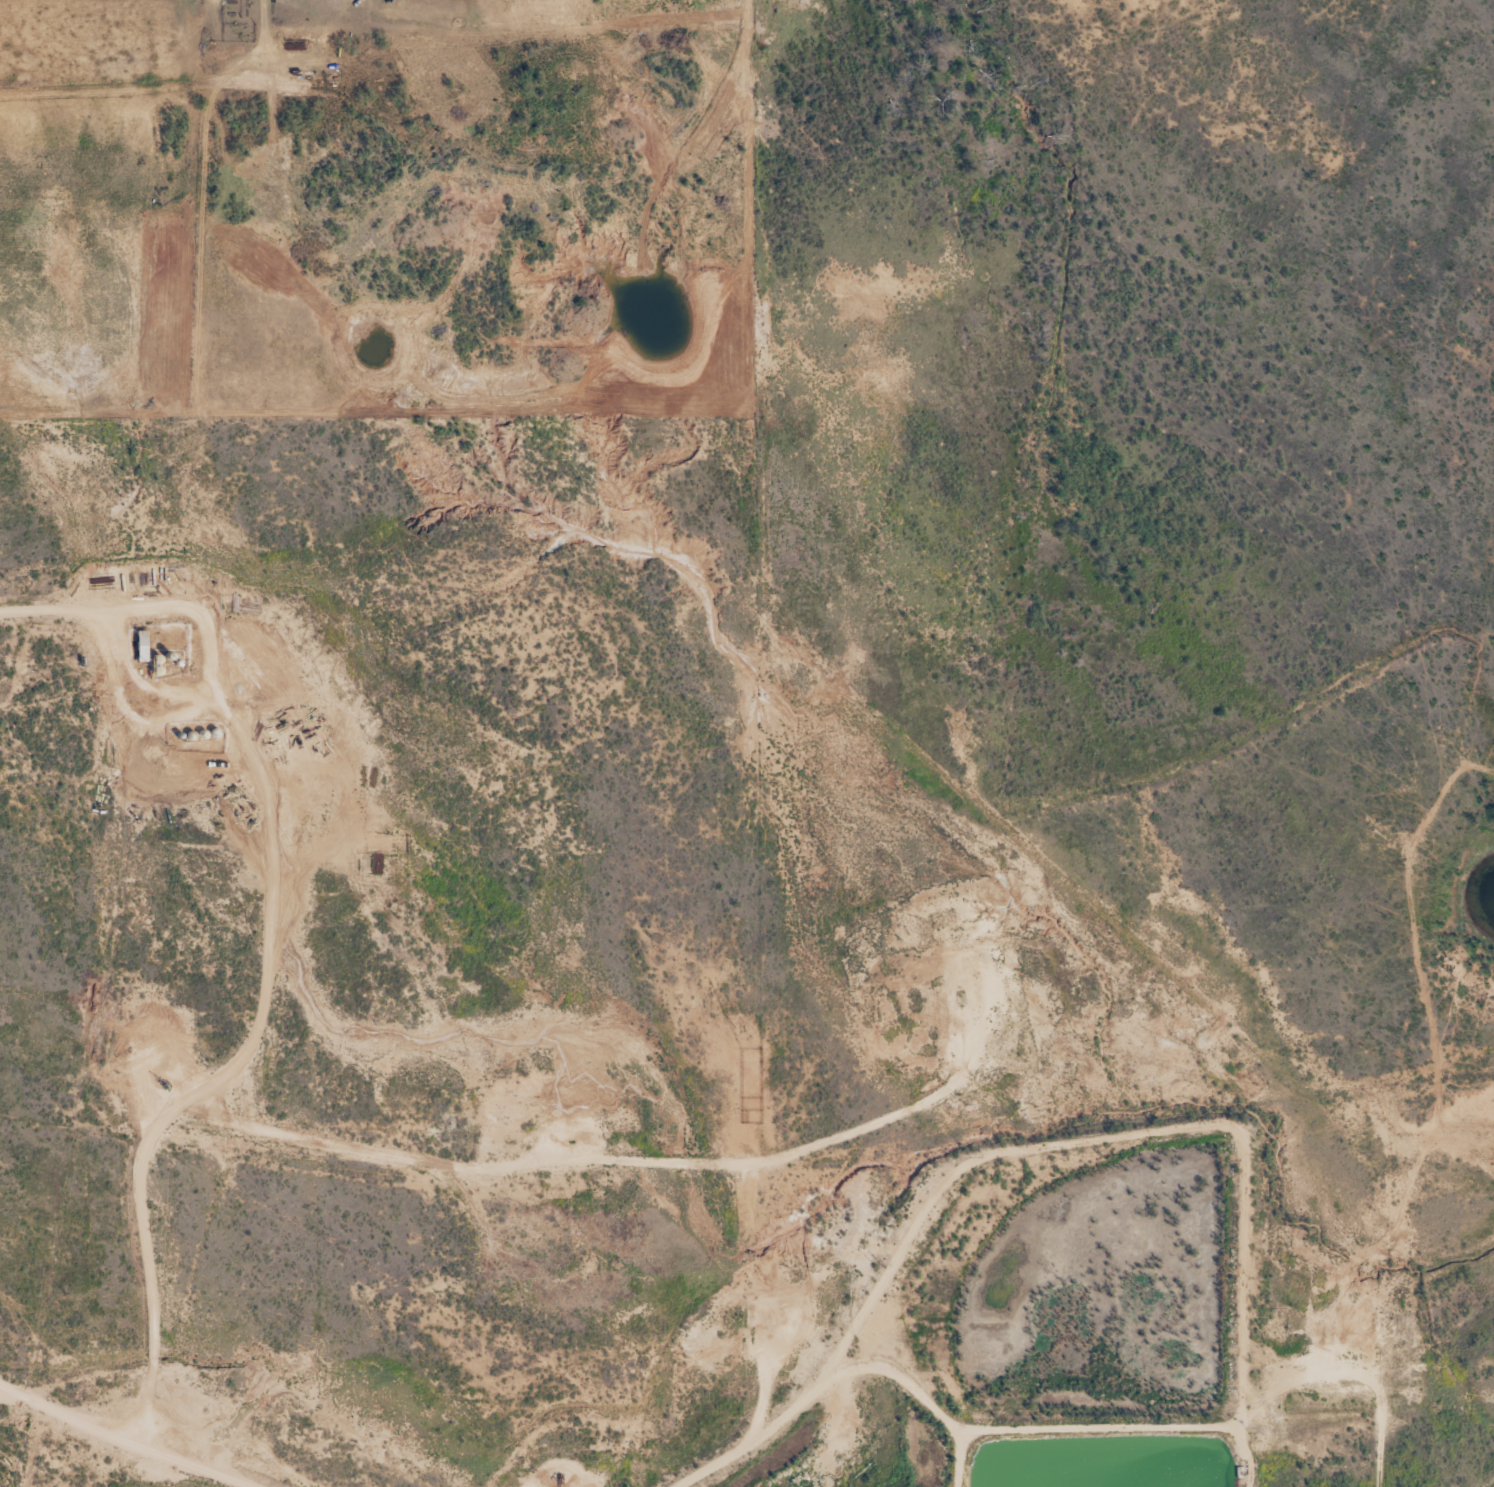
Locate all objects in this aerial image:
road: (87, 610)
building: (141, 646)
road: (1406, 899)
road: (837, 1375)
road: (124, 1441)

